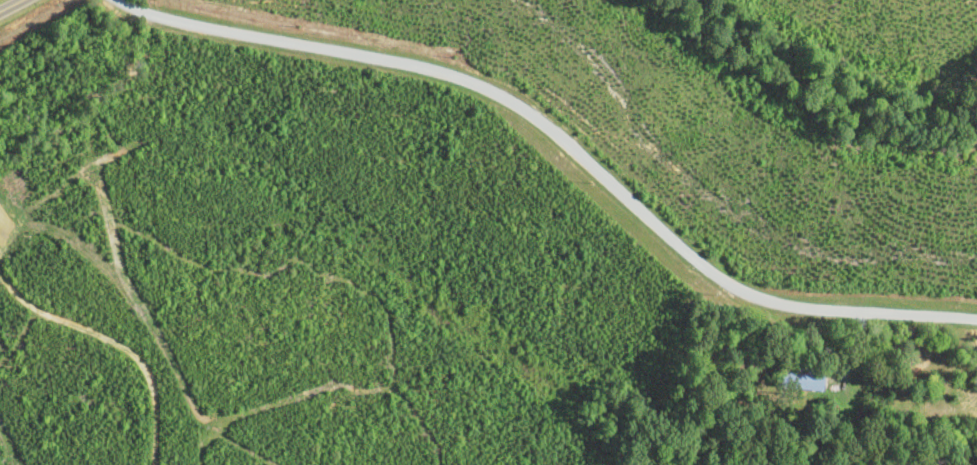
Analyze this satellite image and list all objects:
road: (14, 7)
road: (562, 141)
building: (803, 379)

